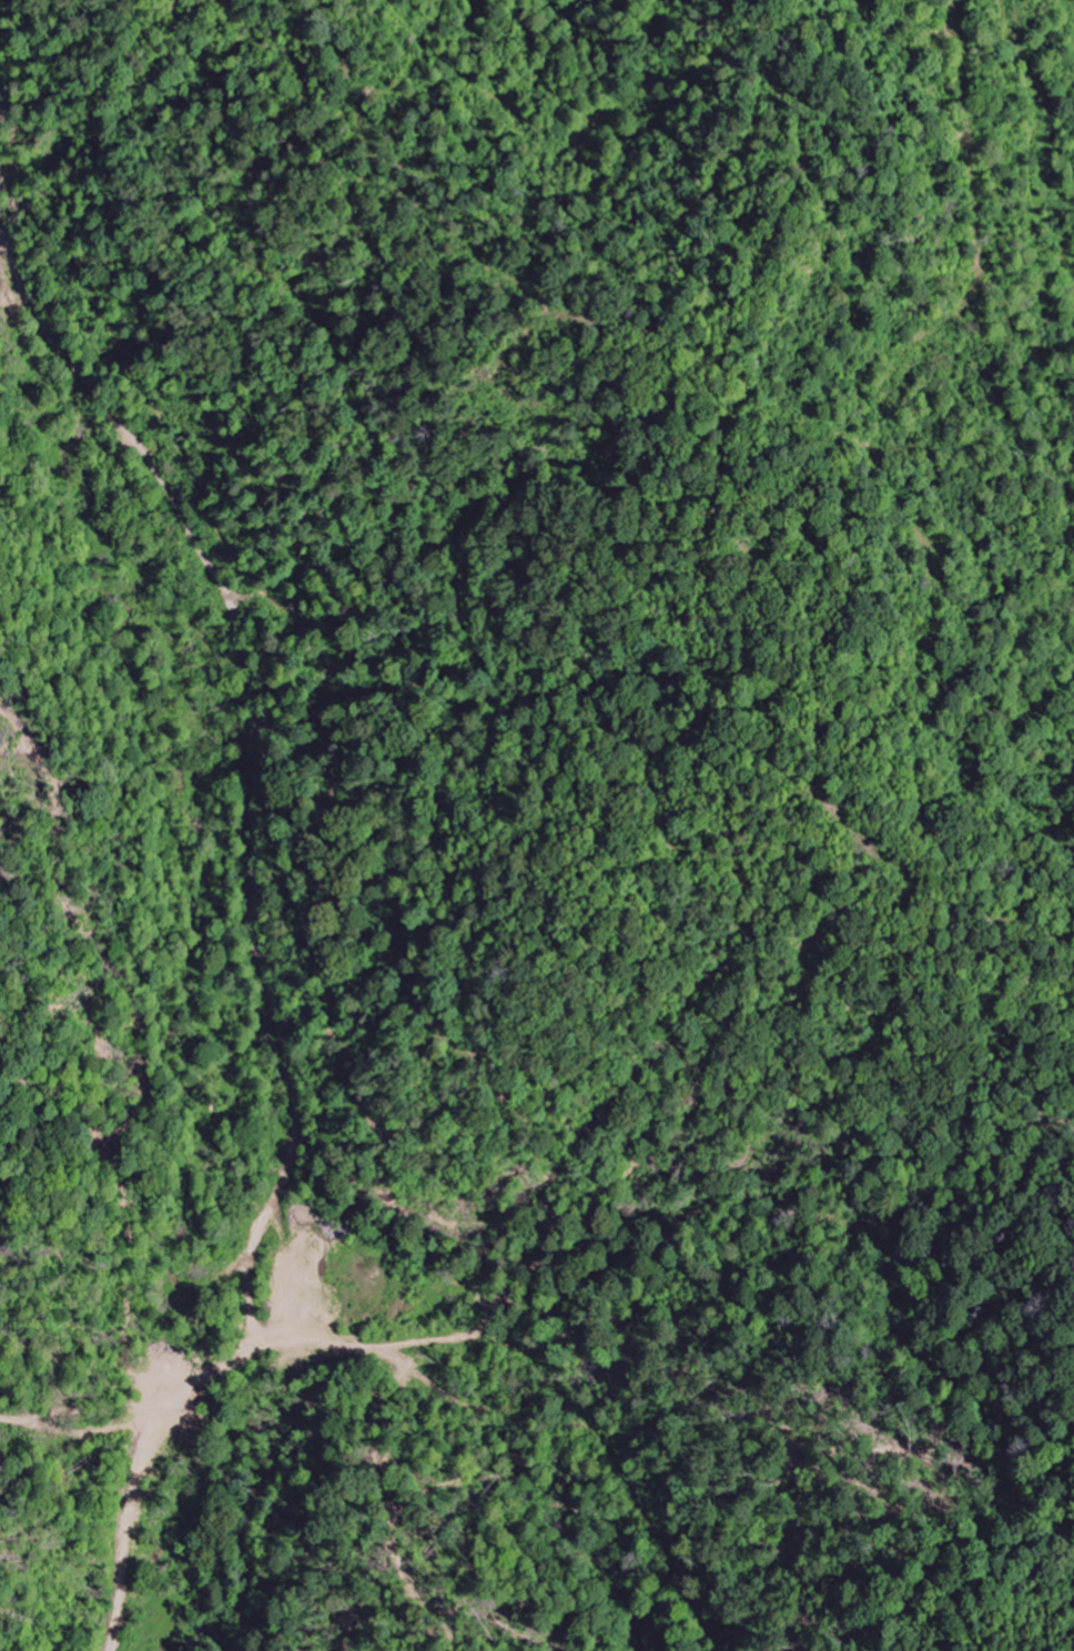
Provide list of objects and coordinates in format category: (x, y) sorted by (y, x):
road: (183, 448)

